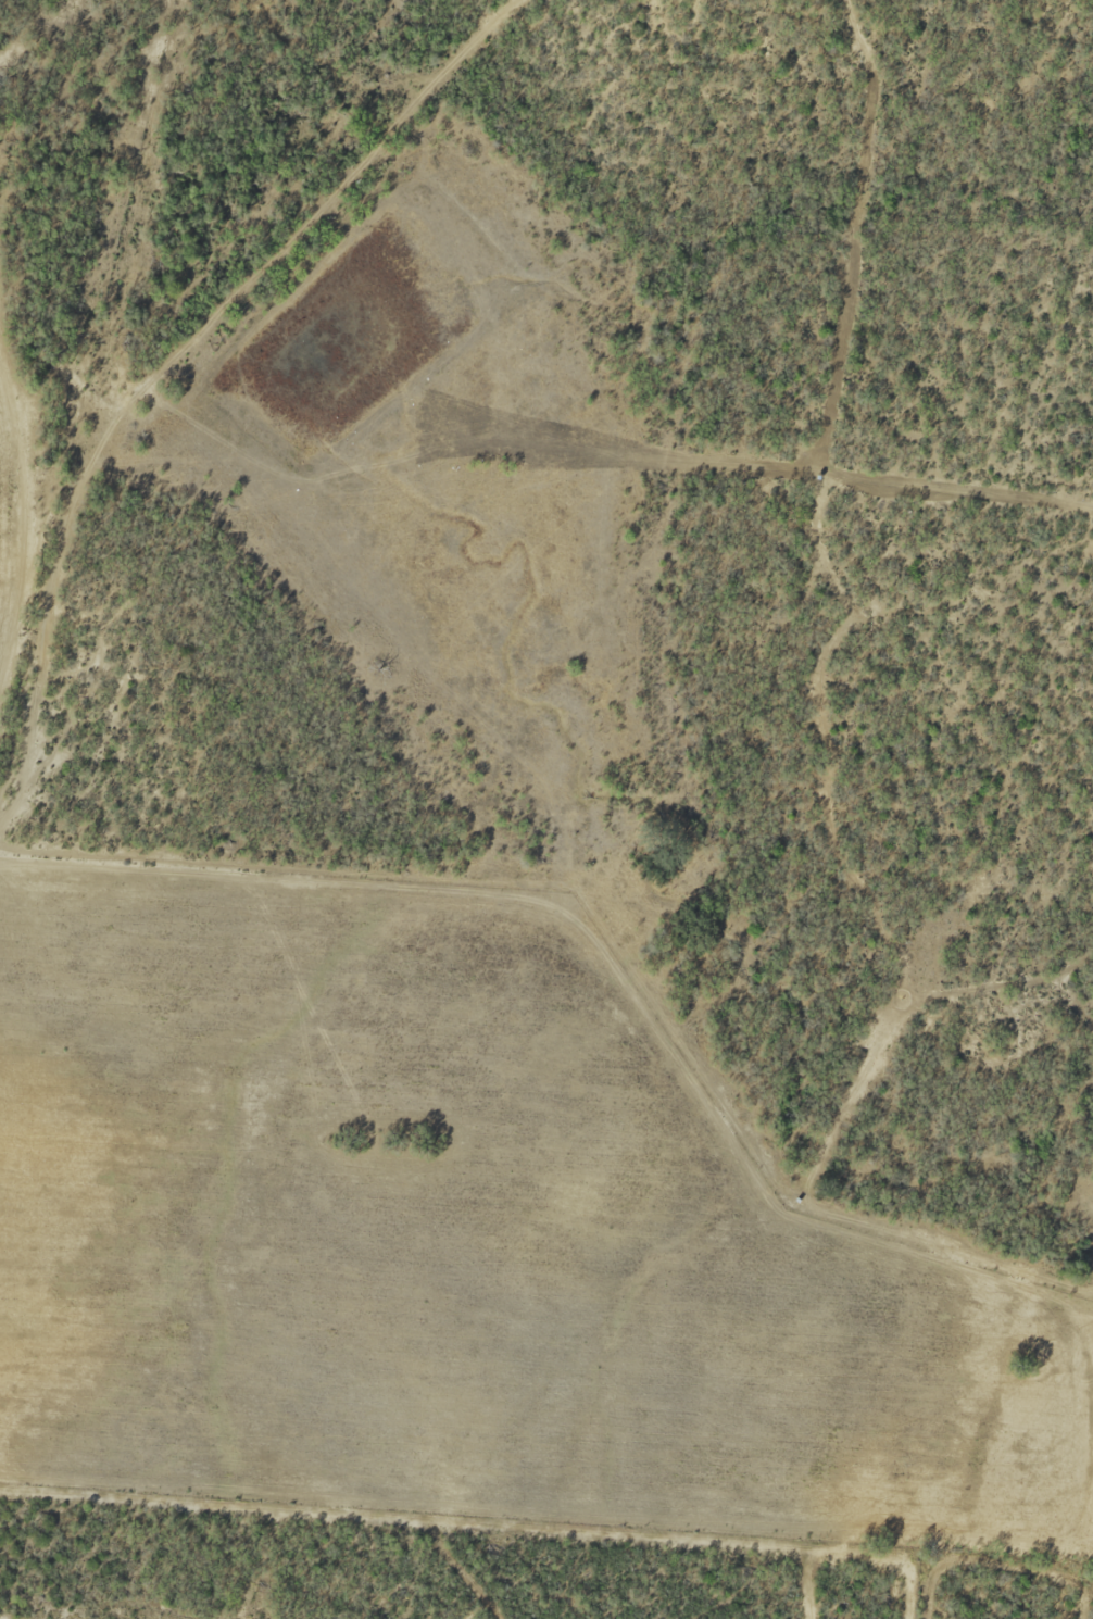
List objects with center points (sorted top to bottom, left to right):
road: (1059, 1306)

